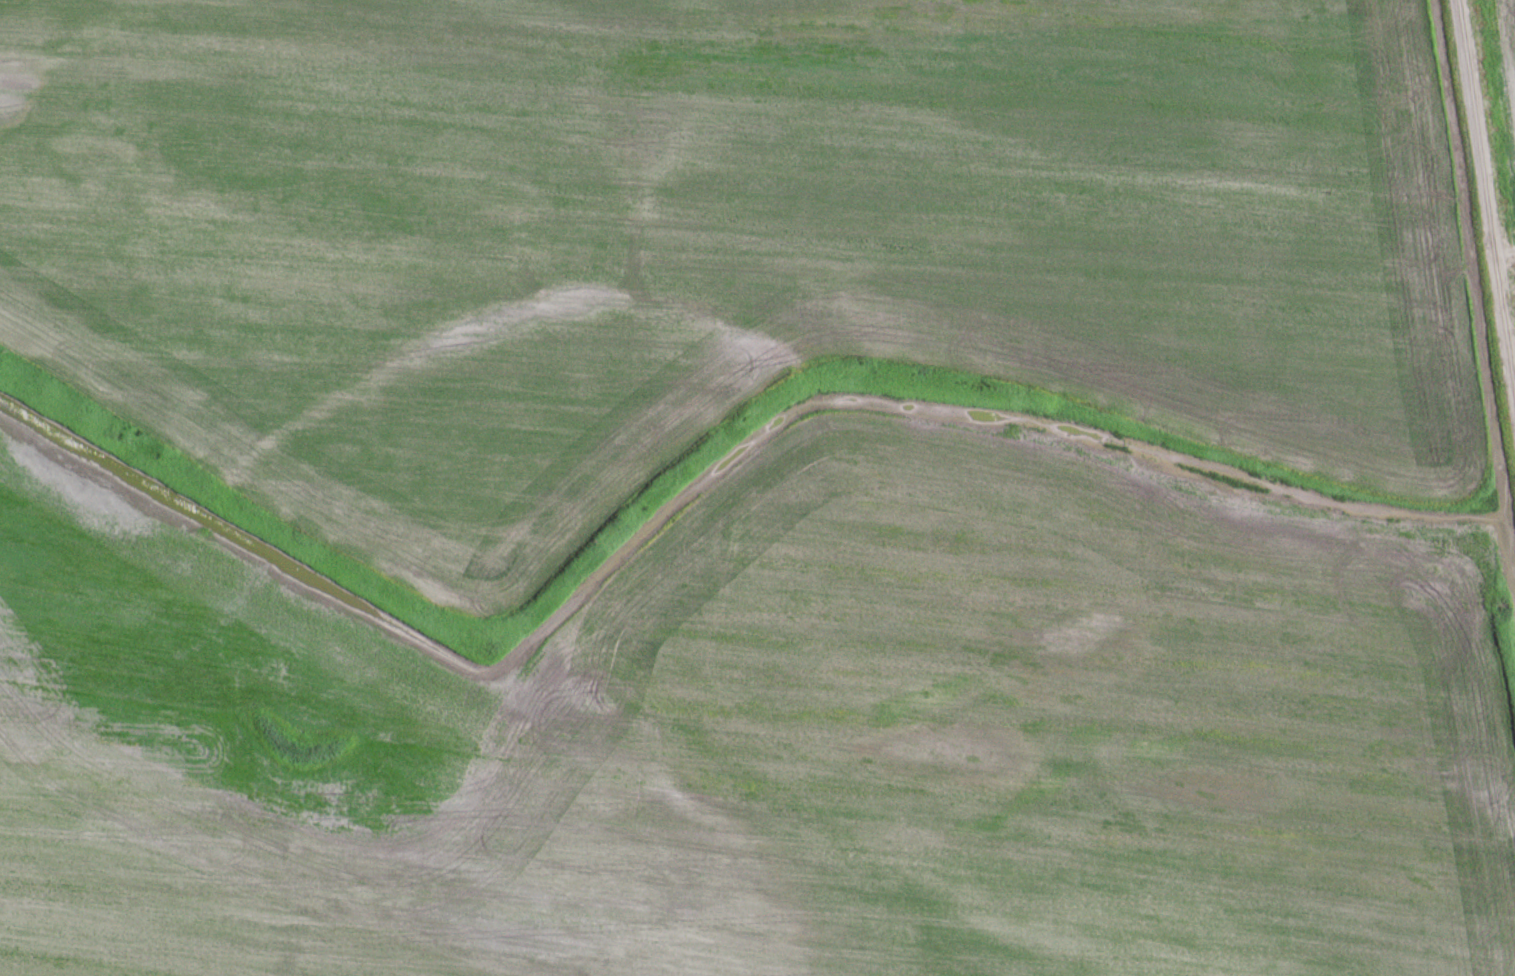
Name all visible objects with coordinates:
road: (1485, 195)

